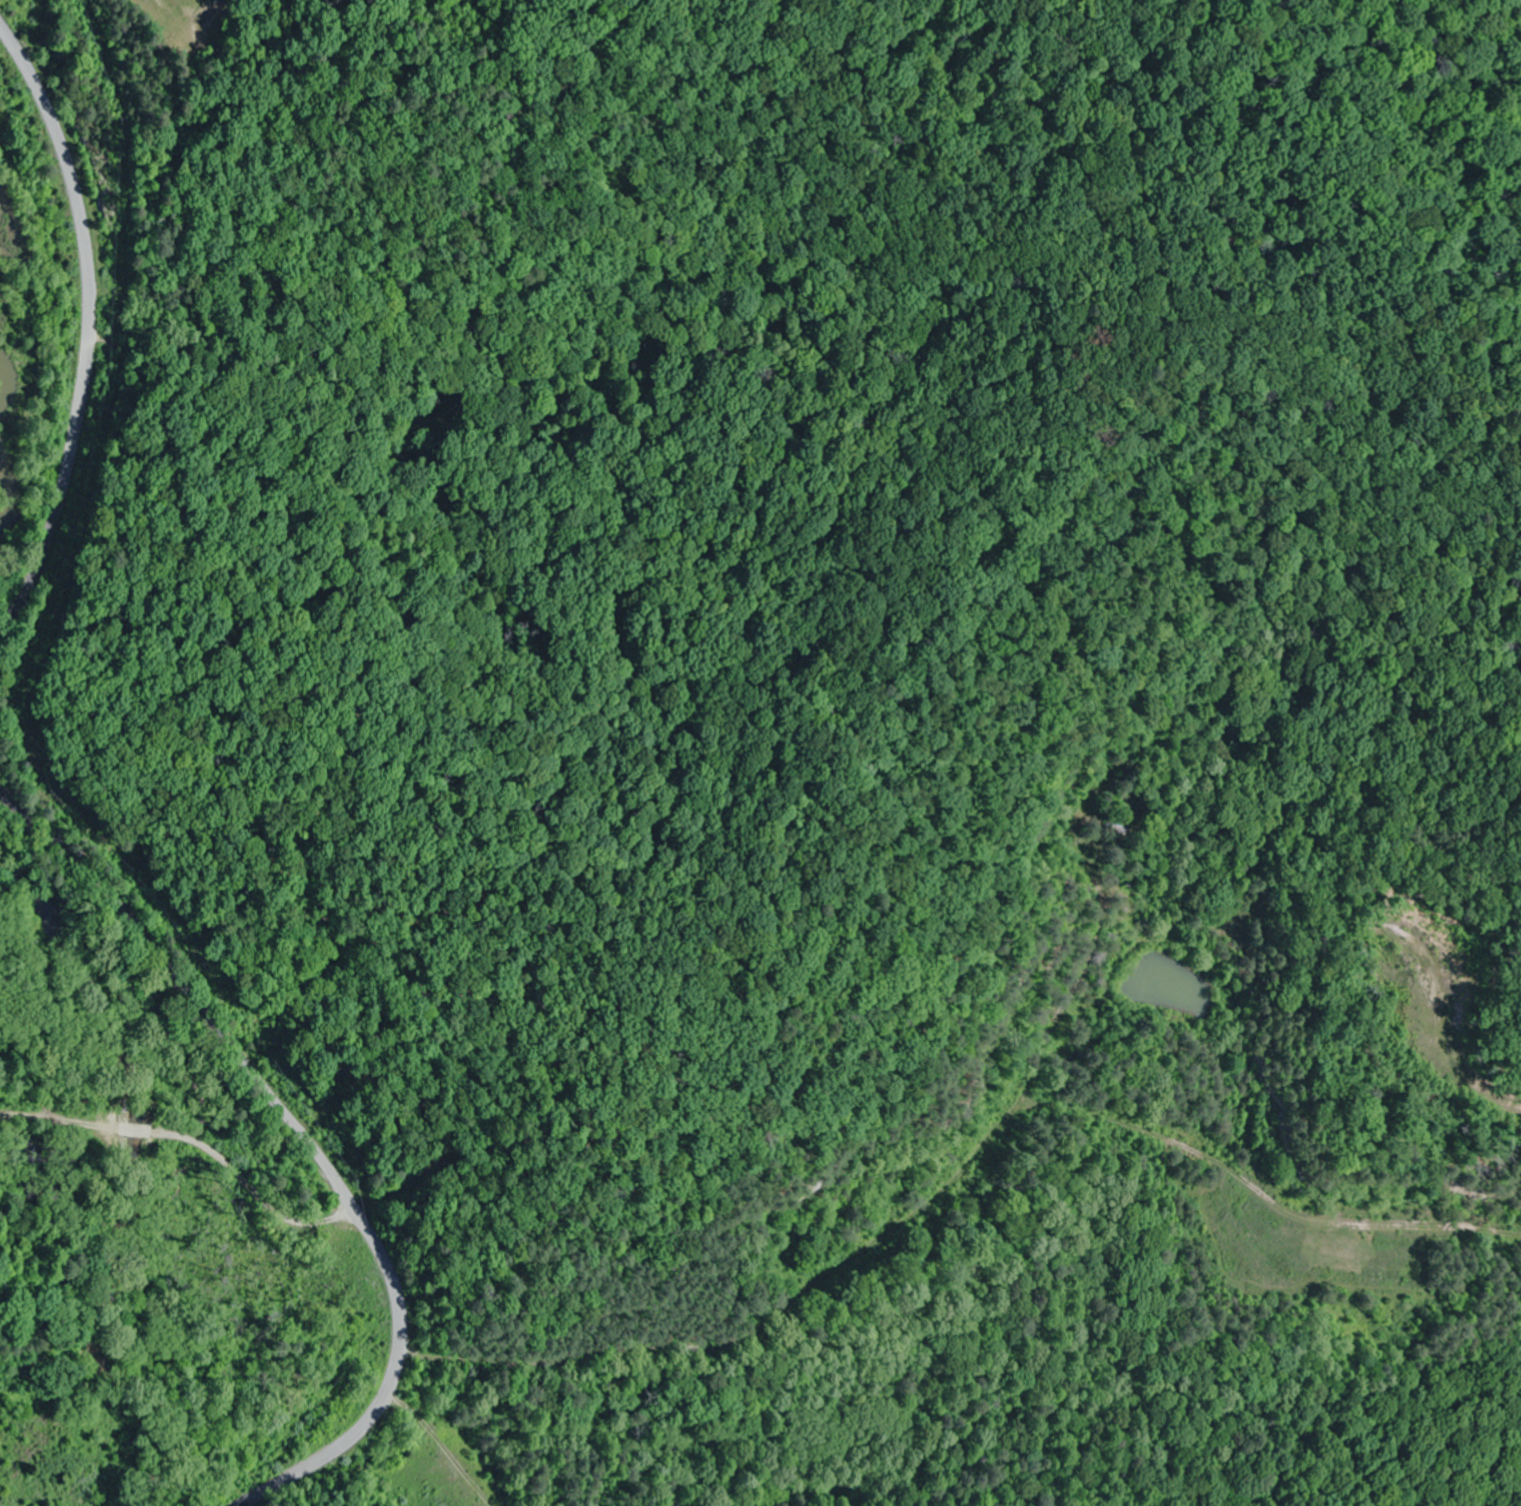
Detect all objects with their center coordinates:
road: (85, 328)
road: (304, 1139)
road: (235, 1140)

